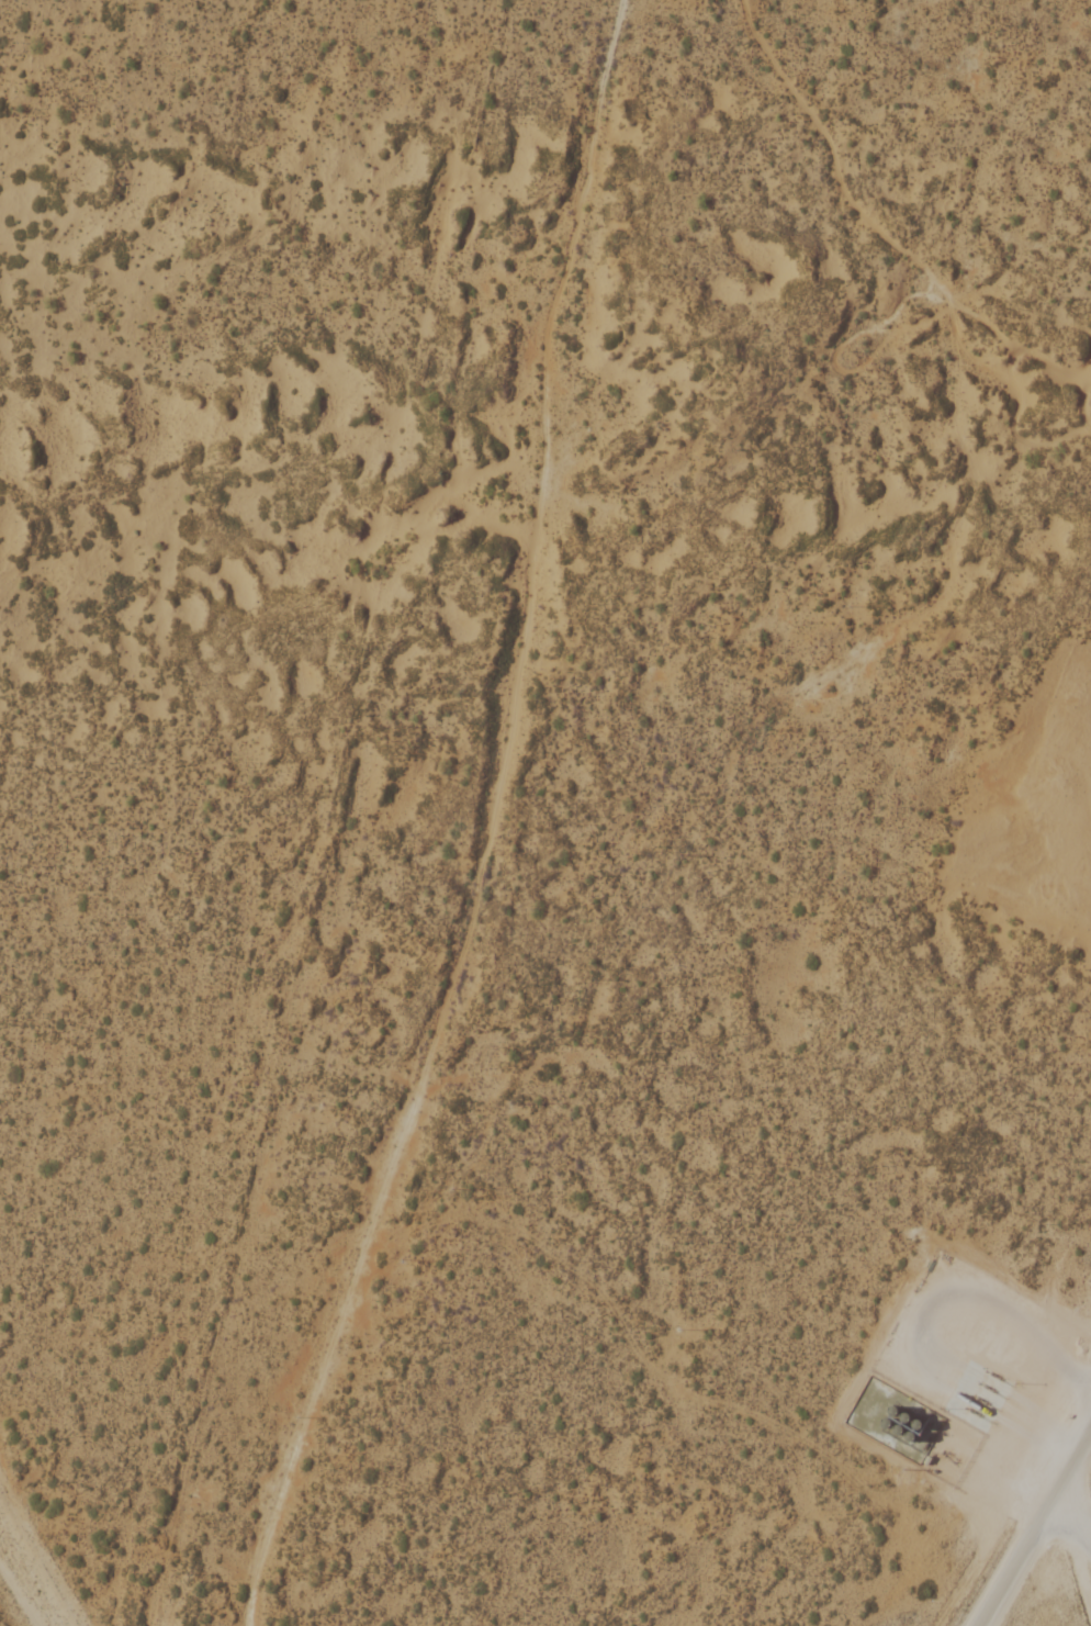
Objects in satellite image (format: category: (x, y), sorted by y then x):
road: (1087, 1459)
road: (1034, 1527)

